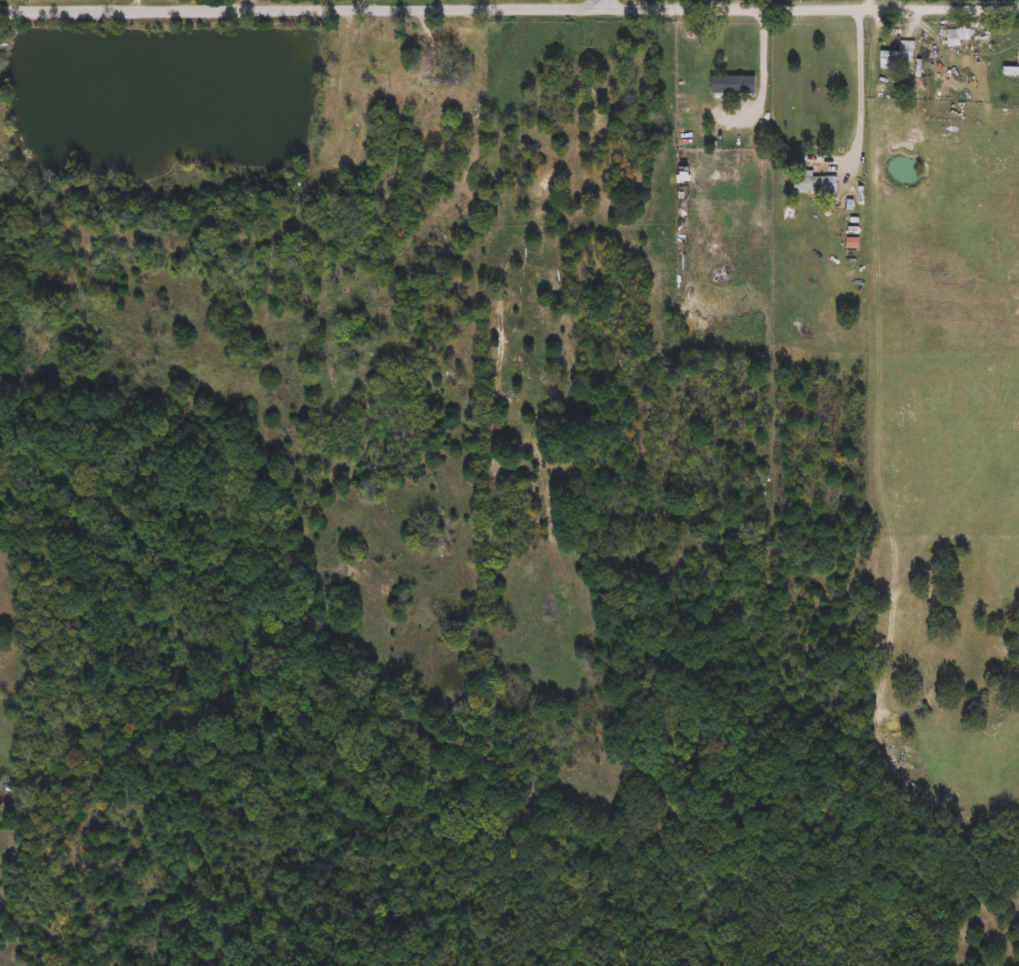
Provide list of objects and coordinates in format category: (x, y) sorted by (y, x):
road: (606, 2)
road: (136, 3)
road: (250, 3)
road: (365, 3)
road: (876, 3)
road: (303, 6)
road: (813, 7)
road: (480, 49)
building: (897, 56)
building: (1011, 72)
building: (367, 77)
building: (733, 85)
building: (444, 86)
road: (866, 102)
building: (815, 183)

